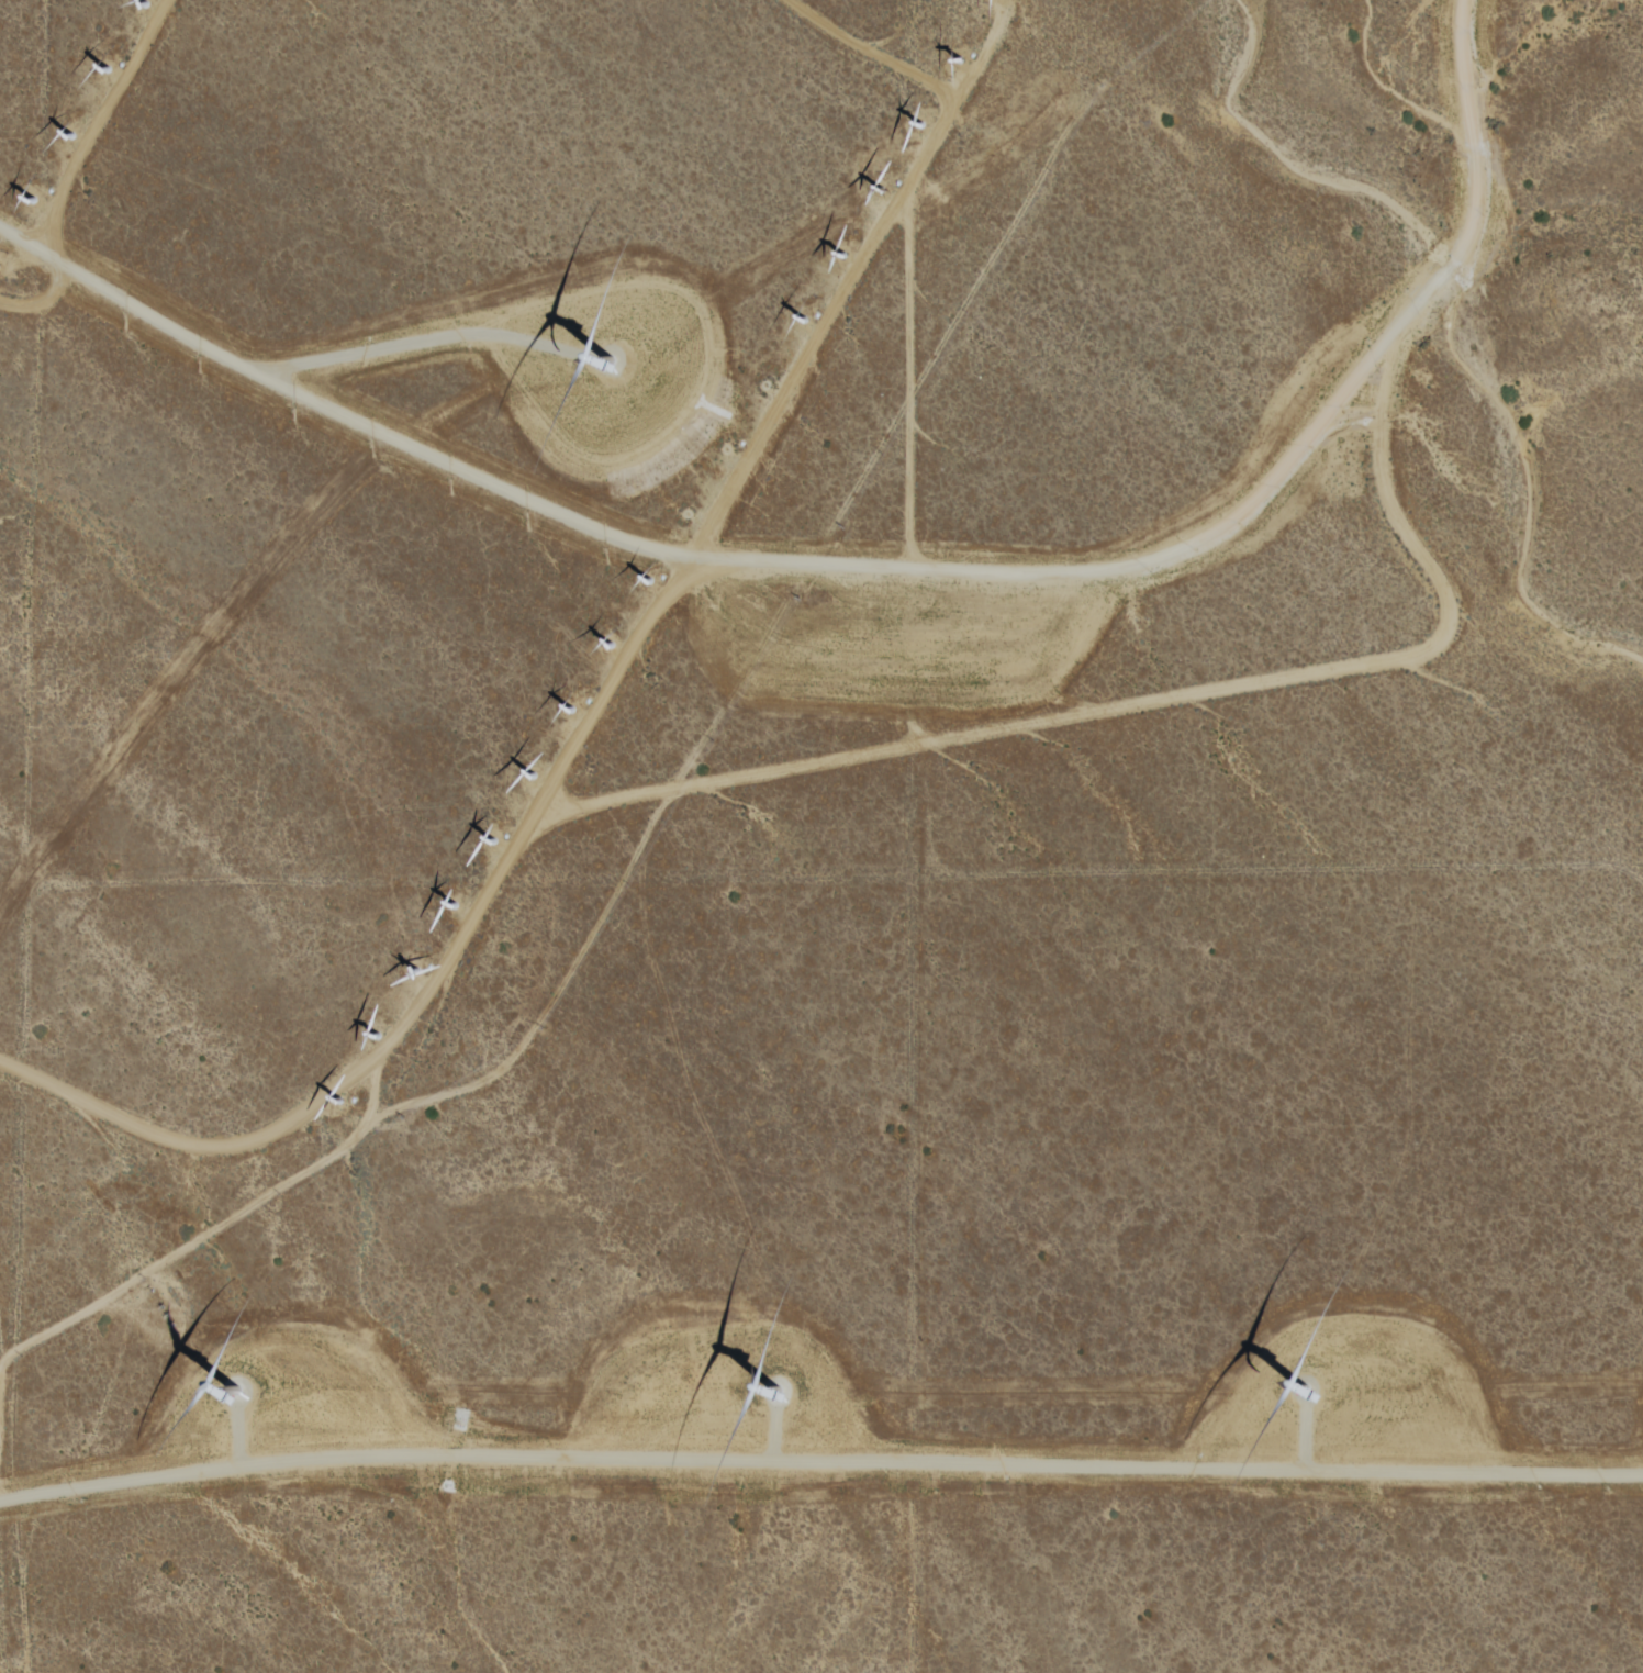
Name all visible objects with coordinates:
wind turbine: (145, 4)
wind turbine: (955, 63)
wind turbine: (105, 70)
wind turbine: (918, 125)
wind turbine: (66, 136)
wind turbine: (876, 193)
wind turbine: (32, 202)
wind turbine: (842, 254)
wind turbine: (801, 319)
wind turbine: (619, 366)
wind turbine: (762, 388)
wind turbine: (726, 453)
wind turbine: (684, 518)
wind turbine: (650, 579)
wind turbine: (611, 648)
wind turbine: (571, 712)
wind turbine: (532, 776)
wind turbine: (493, 841)
wind turbine: (452, 905)
wind turbine: (416, 971)
wind turbine: (378, 1036)
wind turbine: (340, 1101)
wind turbine: (234, 1397)
wind turbine: (771, 1401)
wind turbine: (1296, 1401)

